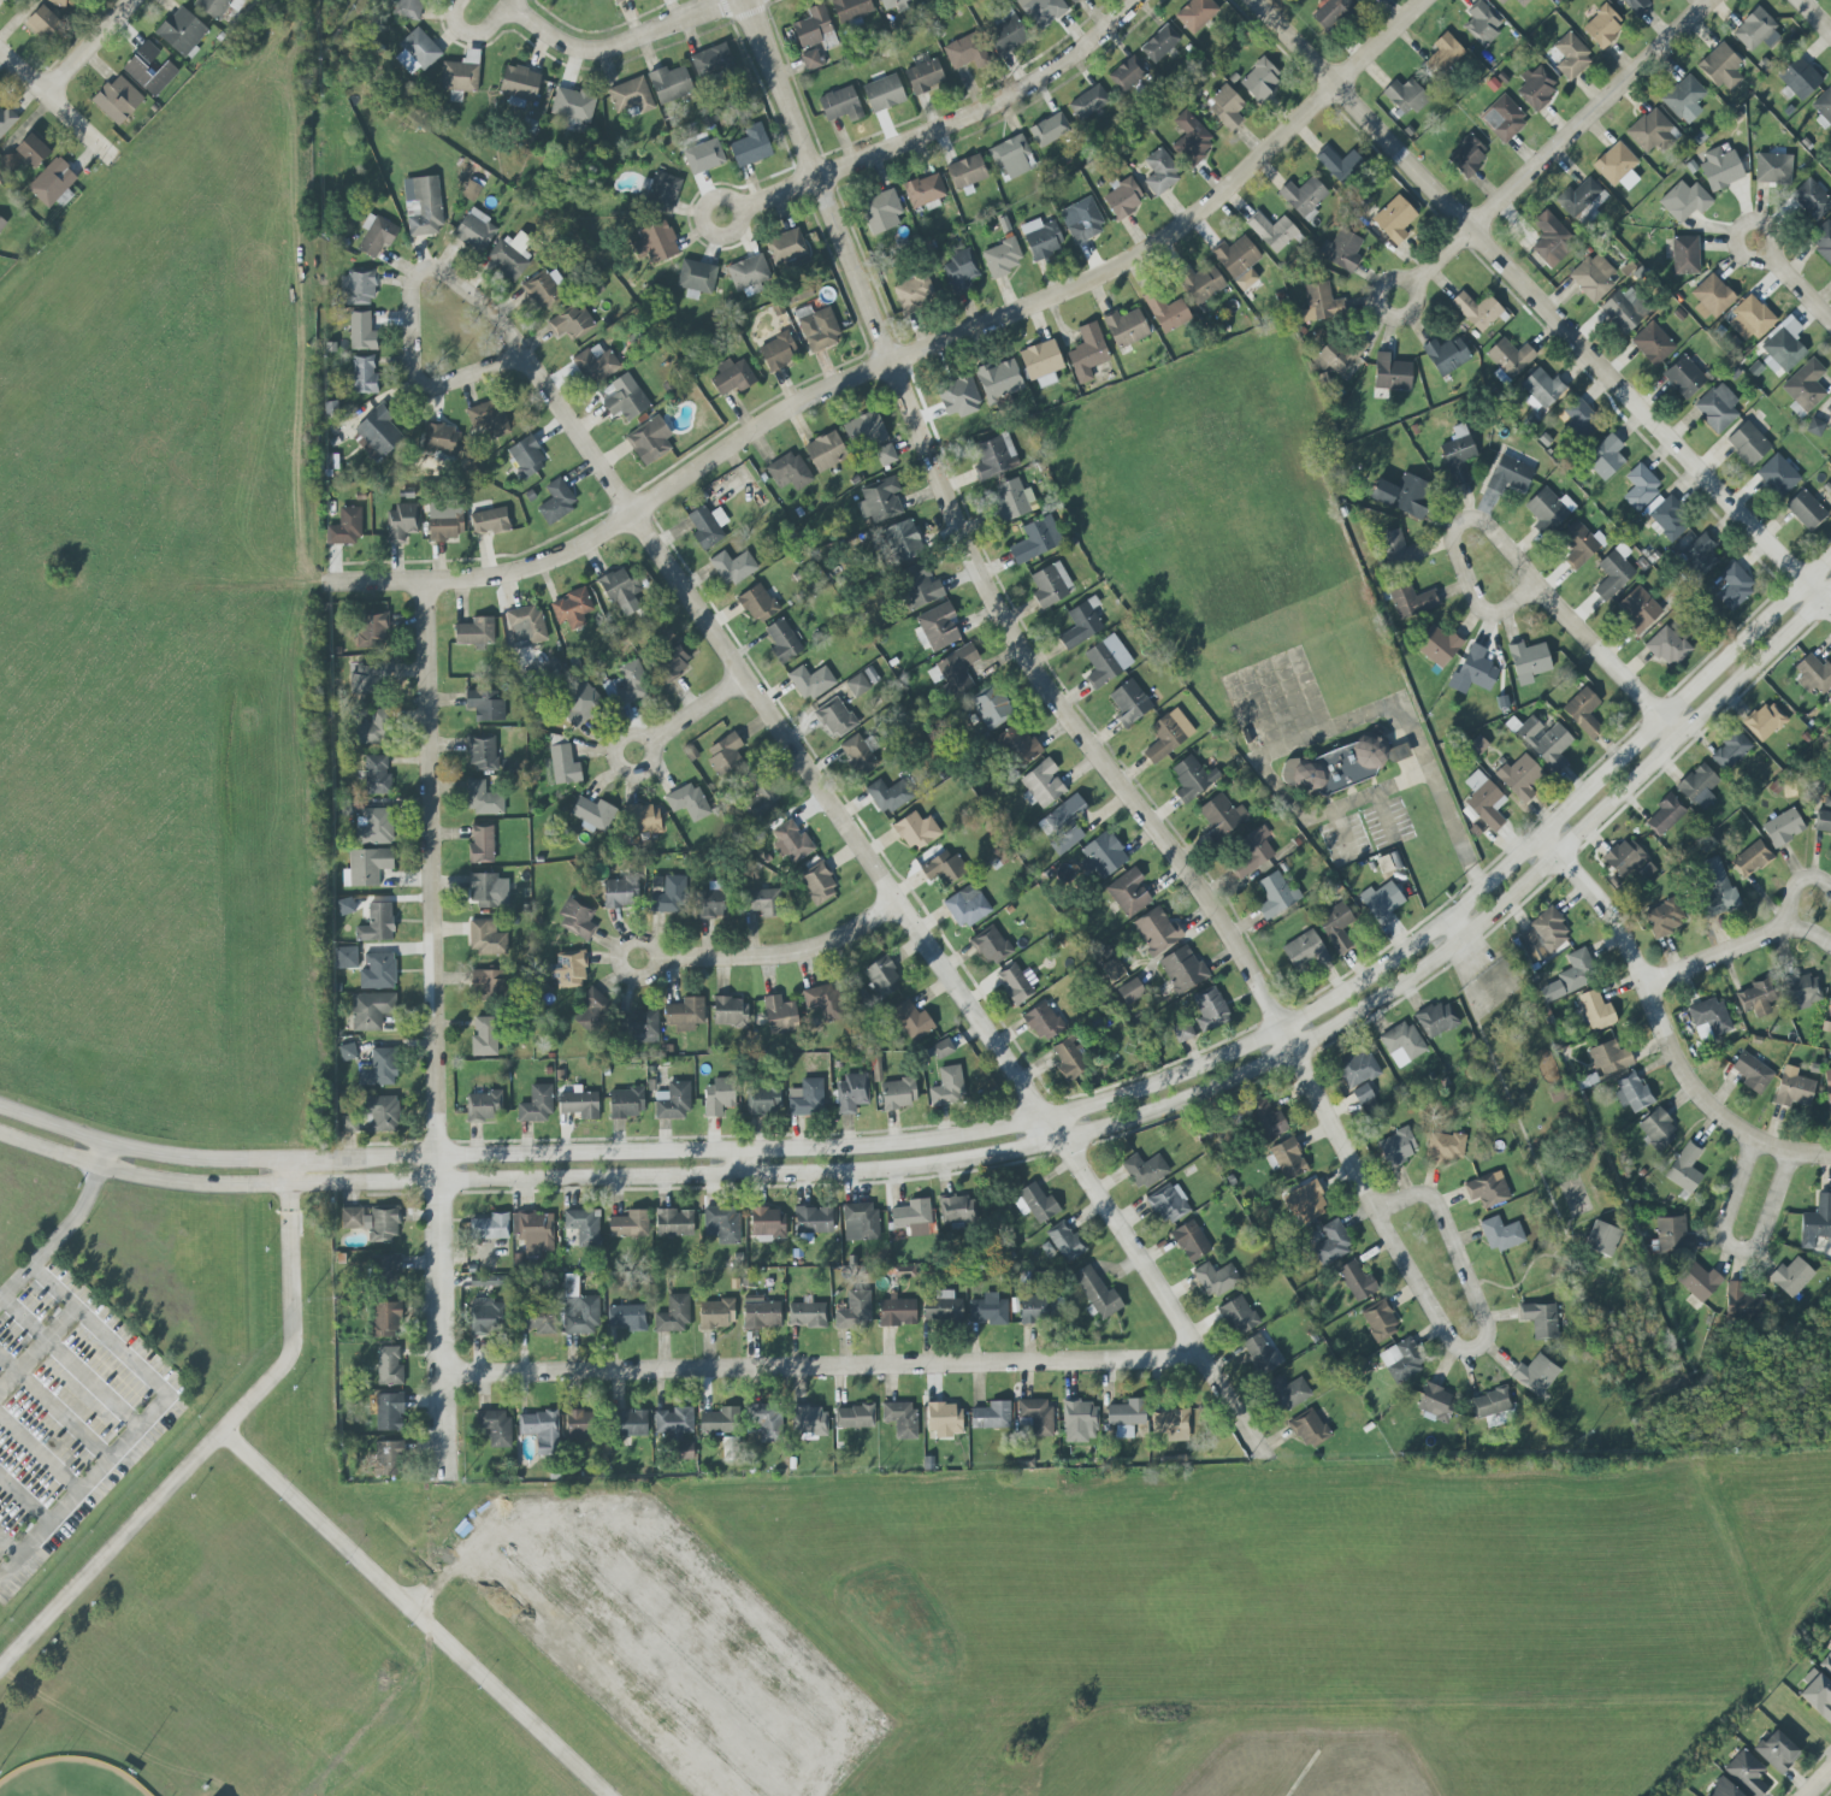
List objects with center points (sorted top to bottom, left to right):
building: (2, 0)
building: (618, 0)
building: (1074, 1)
building: (1501, 1)
building: (60, 2)
road: (508, 2)
building: (893, 2)
building: (1522, 2)
building: (1637, 5)
building: (212, 7)
building: (408, 8)
building: (850, 10)
building: (1041, 11)
building: (1331, 12)
building: (1195, 14)
road: (1815, 16)
building: (43, 23)
building: (1482, 23)
building: (1602, 25)
building: (813, 28)
building: (1755, 30)
building: (182, 33)
building: (1006, 33)
road: (472, 35)
building: (1159, 43)
road: (618, 45)
road: (88, 46)
building: (417, 52)
building: (965, 52)
building: (1443, 55)
building: (1571, 57)
building: (811, 60)
building: (711, 63)
building: (1720, 67)
building: (148, 70)
building: (461, 73)
building: (1127, 75)
building: (925, 76)
building: (1798, 77)
building: (1260, 81)
building: (519, 83)
building: (669, 84)
building: (1537, 88)
building: (882, 93)
building: (631, 96)
building: (1405, 96)
building: (1684, 99)
building: (117, 100)
building: (838, 102)
building: (1088, 102)
road: (57, 104)
building: (573, 105)
building: (1824, 105)
building: (1227, 107)
building: (1502, 119)
building: (6, 120)
road: (947, 122)
building: (1049, 129)
building: (1652, 131)
building: (1191, 140)
road: (1559, 142)
building: (750, 147)
building: (31, 150)
building: (1467, 155)
building: (703, 156)
building: (1012, 158)
building: (1339, 164)
building: (1617, 166)
building: (1720, 169)
building: (1773, 169)
building: (1160, 172)
building: (965, 173)
building: (52, 182)
building: (925, 190)
building: (469, 191)
building: (662, 193)
building: (1123, 197)
building: (1304, 197)
building: (1583, 197)
road: (711, 199)
building: (1812, 199)
building: (1684, 201)
building: (423, 206)
building: (881, 211)
building: (1394, 219)
building: (1081, 220)
road: (1747, 220)
building: (1, 223)
building: (474, 230)
building: (1272, 232)
building: (376, 235)
building: (1041, 237)
building: (1821, 241)
building: (1552, 242)
building: (655, 243)
building: (788, 248)
building: (1341, 250)
building: (510, 255)
building: (1685, 255)
building: (1002, 258)
building: (1238, 261)
building: (959, 271)
building: (749, 272)
building: (696, 277)
building: (1593, 277)
road: (1389, 280)
building: (1200, 283)
road: (1798, 286)
building: (358, 288)
building: (543, 290)
building: (914, 293)
building: (1711, 297)
building: (1321, 302)
road: (1543, 306)
building: (1624, 309)
building: (1477, 311)
building: (1165, 312)
building: (1753, 317)
building: (572, 321)
building: (1126, 327)
building: (819, 330)
building: (361, 331)
building: (1652, 343)
building: (1783, 347)
building: (778, 351)
building: (1087, 353)
road: (903, 354)
building: (1339, 355)
building: (1446, 355)
building: (1510, 358)
building: (1041, 362)
road: (411, 364)
building: (596, 365)
building: (1392, 373)
building: (364, 376)
building: (732, 377)
building: (1684, 377)
building: (999, 380)
building: (1805, 385)
building: (1541, 389)
building: (958, 397)
building: (625, 398)
building: (1717, 408)
building: (1579, 419)
building: (486, 420)
building: (1814, 427)
building: (864, 431)
building: (378, 432)
building: (441, 438)
building: (649, 439)
building: (1747, 443)
building: (826, 451)
building: (885, 455)
building: (994, 456)
building: (1458, 456)
building: (526, 457)
building: (1605, 457)
building: (788, 472)
building: (1510, 475)
building: (1777, 475)
building: (1640, 486)
building: (1402, 495)
building: (880, 500)
building: (1009, 500)
building: (556, 501)
building: (1548, 509)
building: (1805, 509)
building: (1667, 516)
building: (490, 521)
building: (401, 522)
building: (445, 525)
building: (707, 526)
building: (345, 527)
building: (1036, 539)
building: (903, 540)
building: (1579, 543)
road: (1454, 547)
building: (1396, 550)
building: (1700, 555)
building: (732, 567)
building: (1613, 574)
building: (1050, 584)
building: (919, 585)
building: (1735, 585)
building: (620, 591)
building: (1411, 601)
building: (757, 604)
building: (572, 608)
building: (1637, 609)
building: (1081, 624)
building: (526, 625)
building: (937, 627)
building: (371, 630)
road: (1009, 631)
building: (474, 632)
building: (782, 642)
building: (1439, 646)
building: (1666, 648)
road: (1606, 658)
building: (1529, 660)
building: (1106, 661)
building: (671, 663)
building: (957, 669)
building: (1473, 670)
building: (1813, 674)
building: (810, 681)
building: (362, 684)
building: (627, 685)
building: (580, 703)
building: (1129, 703)
building: (485, 705)
road: (1306, 705)
building: (991, 707)
road: (696, 710)
building: (1583, 711)
building: (835, 717)
building: (1764, 721)
building: (372, 729)
road: (1321, 733)
building: (1168, 734)
road: (621, 737)
building: (1544, 743)
building: (1017, 745)
building: (1731, 751)
building: (483, 752)
building: (860, 754)
building: (725, 755)
building: (562, 762)
building: (1342, 764)
building: (377, 775)
building: (1519, 778)
building: (1192, 779)
building: (1041, 785)
building: (1699, 786)
building: (890, 794)
building: (482, 799)
building: (761, 799)
building: (1484, 800)
building: (687, 802)
building: (592, 814)
building: (1665, 815)
building: (1221, 816)
building: (643, 819)
building: (1823, 821)
building: (1063, 825)
building: (374, 826)
building: (1782, 827)
building: (916, 831)
building: (482, 843)
building: (791, 843)
building: (1252, 852)
building: (1103, 856)
building: (1624, 857)
building: (1750, 858)
building: (366, 867)
building: (943, 867)
building: (1646, 870)
building: (817, 884)
road: (1792, 887)
building: (1715, 888)
building: (488, 891)
building: (620, 892)
building: (1128, 892)
building: (1275, 894)
building: (671, 896)
building: (761, 902)
building: (1381, 902)
road: (897, 903)
building: (711, 904)
building: (344, 906)
building: (967, 906)
building: (1664, 917)
building: (577, 918)
building: (377, 923)
building: (1335, 927)
road: (1453, 929)
building: (1157, 931)
road: (1805, 931)
building: (1544, 932)
building: (485, 938)
road: (625, 943)
building: (991, 946)
building: (1304, 950)
road: (782, 953)
road: (1708, 956)
building: (345, 957)
building: (569, 969)
building: (1182, 969)
building: (1577, 970)
building: (378, 971)
building: (881, 974)
building: (489, 983)
building: (1015, 985)
road: (1644, 989)
building: (1130, 991)
building: (1802, 991)
building: (1755, 998)
building: (826, 1002)
building: (1829, 1006)
building: (1210, 1009)
building: (371, 1010)
building: (1596, 1010)
building: (591, 1011)
building: (731, 1012)
building: (685, 1014)
building: (780, 1015)
building: (1708, 1018)
building: (1436, 1020)
building: (911, 1021)
building: (1041, 1022)
building: (640, 1026)
road: (432, 1029)
building: (1182, 1032)
building: (484, 1036)
building: (1401, 1044)
building: (941, 1048)
building: (347, 1052)
building: (1609, 1057)
building: (1070, 1059)
building: (380, 1068)
building: (876, 1069)
building: (1358, 1069)
building: (1752, 1073)
building: (947, 1087)
building: (1827, 1087)
building: (1792, 1088)
building: (1365, 1092)
building: (1631, 1092)
building: (851, 1093)
building: (898, 1094)
building: (719, 1097)
building: (763, 1100)
building: (804, 1100)
building: (673, 1101)
building: (626, 1103)
building: (579, 1104)
building: (483, 1105)
building: (536, 1105)
building: (382, 1113)
building: (1265, 1121)
building: (349, 1124)
road: (1008, 1124)
building: (1656, 1130)
building: (1396, 1146)
building: (1445, 1147)
road: (1004, 1152)
road: (1790, 1153)
building: (1286, 1159)
road: (736, 1162)
building: (1684, 1169)
building: (1145, 1170)
building: (1487, 1189)
building: (1305, 1203)
building: (1034, 1204)
building: (1168, 1204)
building: (957, 1210)
building: (912, 1218)
building: (813, 1221)
building: (373, 1222)
building: (860, 1222)
building: (1817, 1222)
building: (674, 1223)
building: (630, 1224)
building: (721, 1224)
building: (768, 1224)
building: (490, 1227)
building: (583, 1227)
road: (65, 1228)
building: (533, 1231)
building: (1500, 1234)
building: (1671, 1235)
building: (1602, 1239)
building: (1189, 1241)
building: (1062, 1242)
building: (1331, 1242)
road: (1735, 1249)
building: (388, 1270)
building: (904, 1271)
building: (1791, 1277)
building: (1215, 1280)
building: (486, 1281)
building: (1357, 1281)
building: (1699, 1281)
building: (1097, 1294)
building: (1743, 1300)
building: (943, 1307)
building: (578, 1308)
building: (988, 1310)
building: (1035, 1310)
building: (855, 1311)
building: (897, 1312)
building: (716, 1313)
building: (760, 1313)
building: (673, 1314)
building: (807, 1314)
building: (1238, 1316)
building: (626, 1317)
building: (385, 1319)
building: (485, 1319)
building: (1540, 1319)
building: (1378, 1321)
building: (538, 1322)
road: (1486, 1328)
road: (37, 1349)
building: (1262, 1354)
building: (1401, 1360)
road: (69, 1363)
road: (820, 1365)
building: (389, 1366)
building: (1535, 1375)
building: (1287, 1393)
building: (1435, 1402)
building: (1492, 1402)
road: (53, 1407)
building: (389, 1412)
building: (991, 1416)
building: (1036, 1416)
building: (854, 1417)
building: (1126, 1417)
road: (144, 1418)
building: (900, 1418)
building: (944, 1419)
building: (810, 1420)
building: (673, 1422)
building: (720, 1422)
building: (766, 1422)
building: (1080, 1422)
building: (631, 1423)
building: (1171, 1424)
building: (579, 1425)
building: (494, 1428)
building: (1309, 1429)
building: (541, 1431)
road: (213, 1441)
building: (684, 1451)
road: (40, 1453)
building: (388, 1458)
road: (25, 1500)
road: (11, 1544)
road: (415, 1613)
building: (1826, 1665)
building: (1817, 1694)
building: (1777, 1751)
building: (1746, 1773)
park: (66, 1778)
road: (1817, 1780)
building: (1721, 1789)

